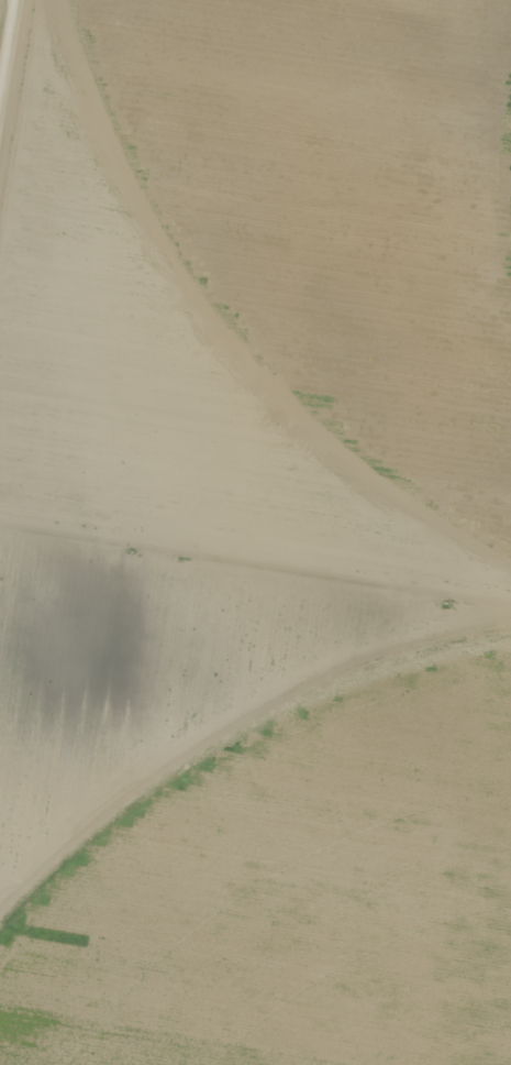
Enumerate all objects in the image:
road: (7, 50)
road: (255, 578)

